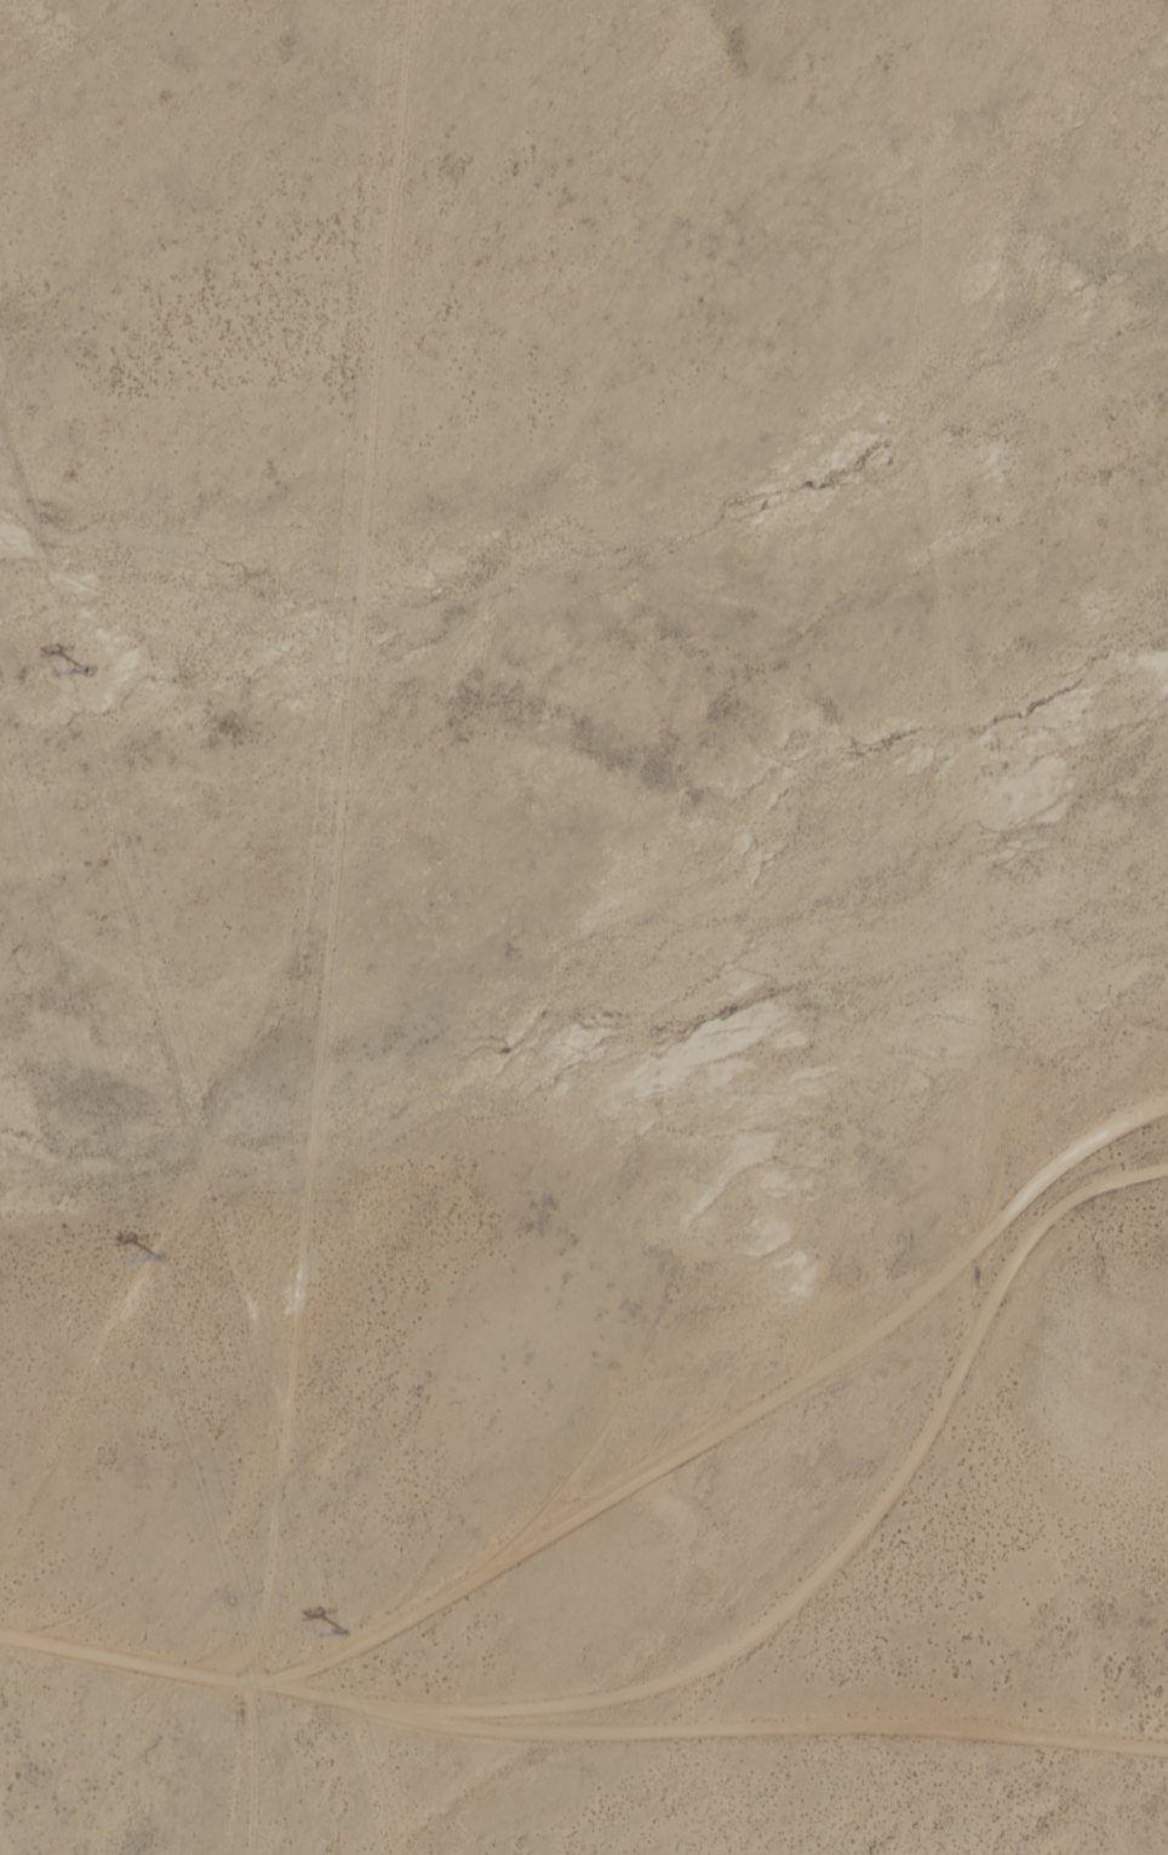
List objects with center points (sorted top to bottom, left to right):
power tower: (91, 669)
power tower: (161, 1254)
road: (630, 1524)
power tower: (348, 1628)

